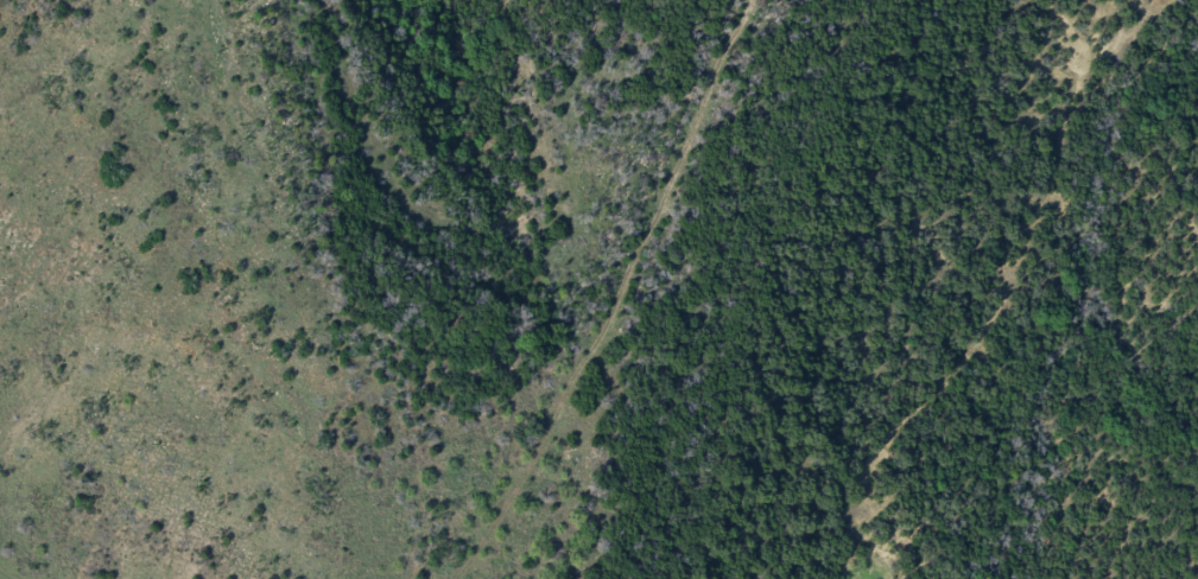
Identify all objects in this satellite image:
park: (598, 289)

